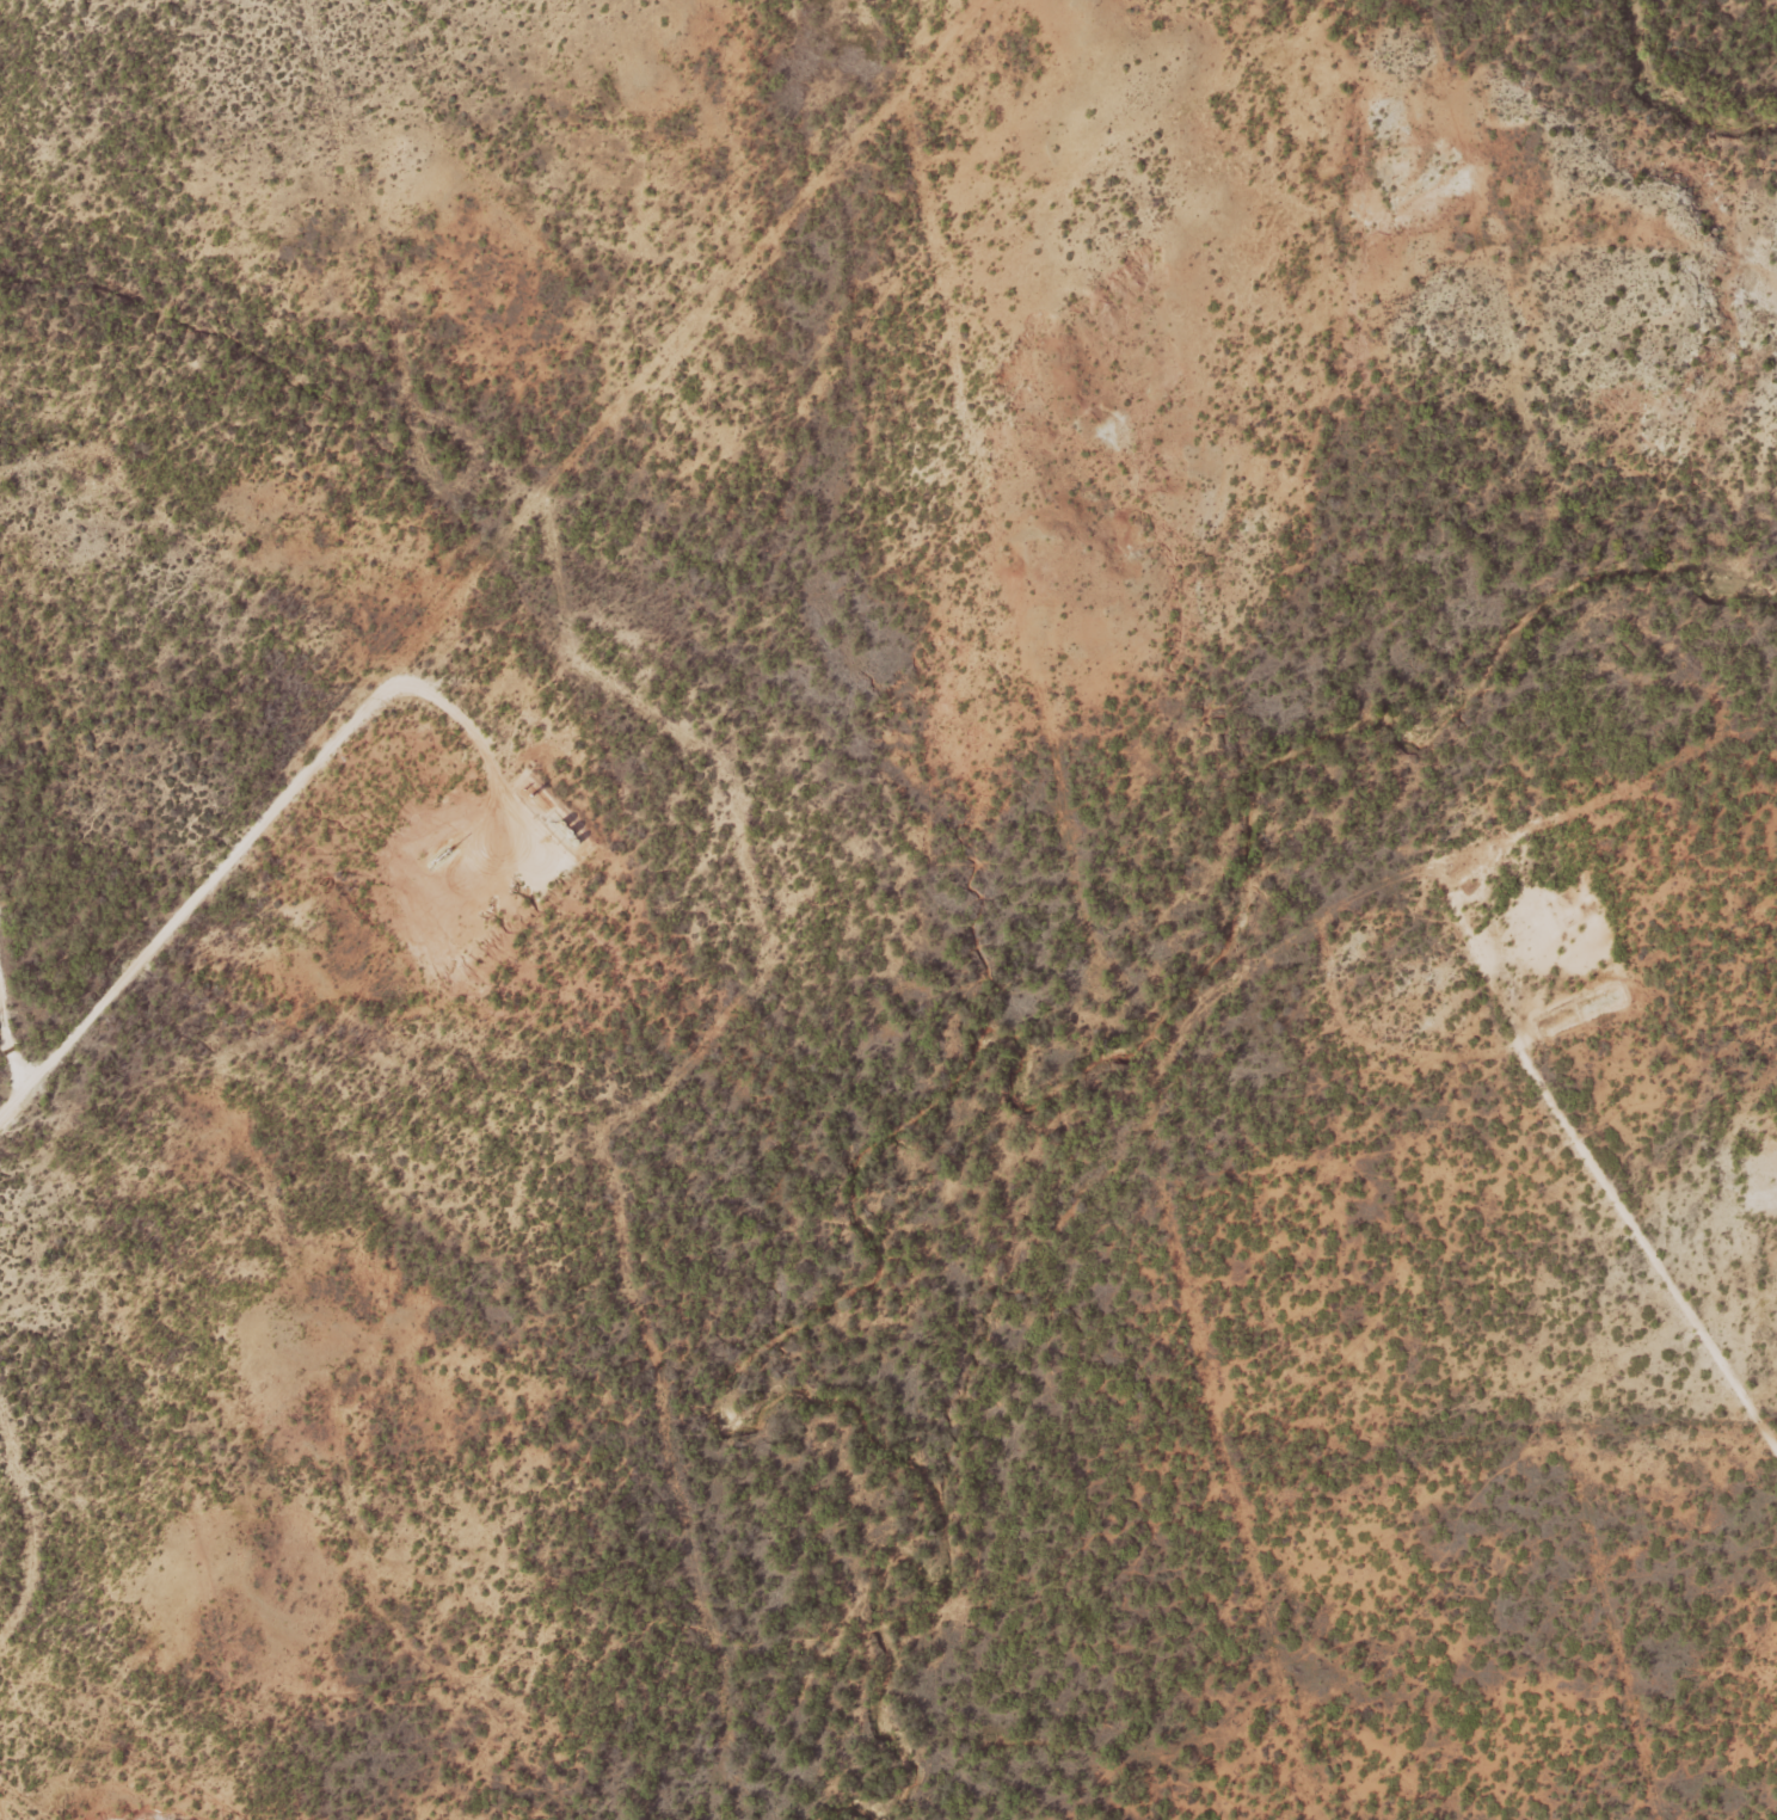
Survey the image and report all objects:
building: (1605, 997)

